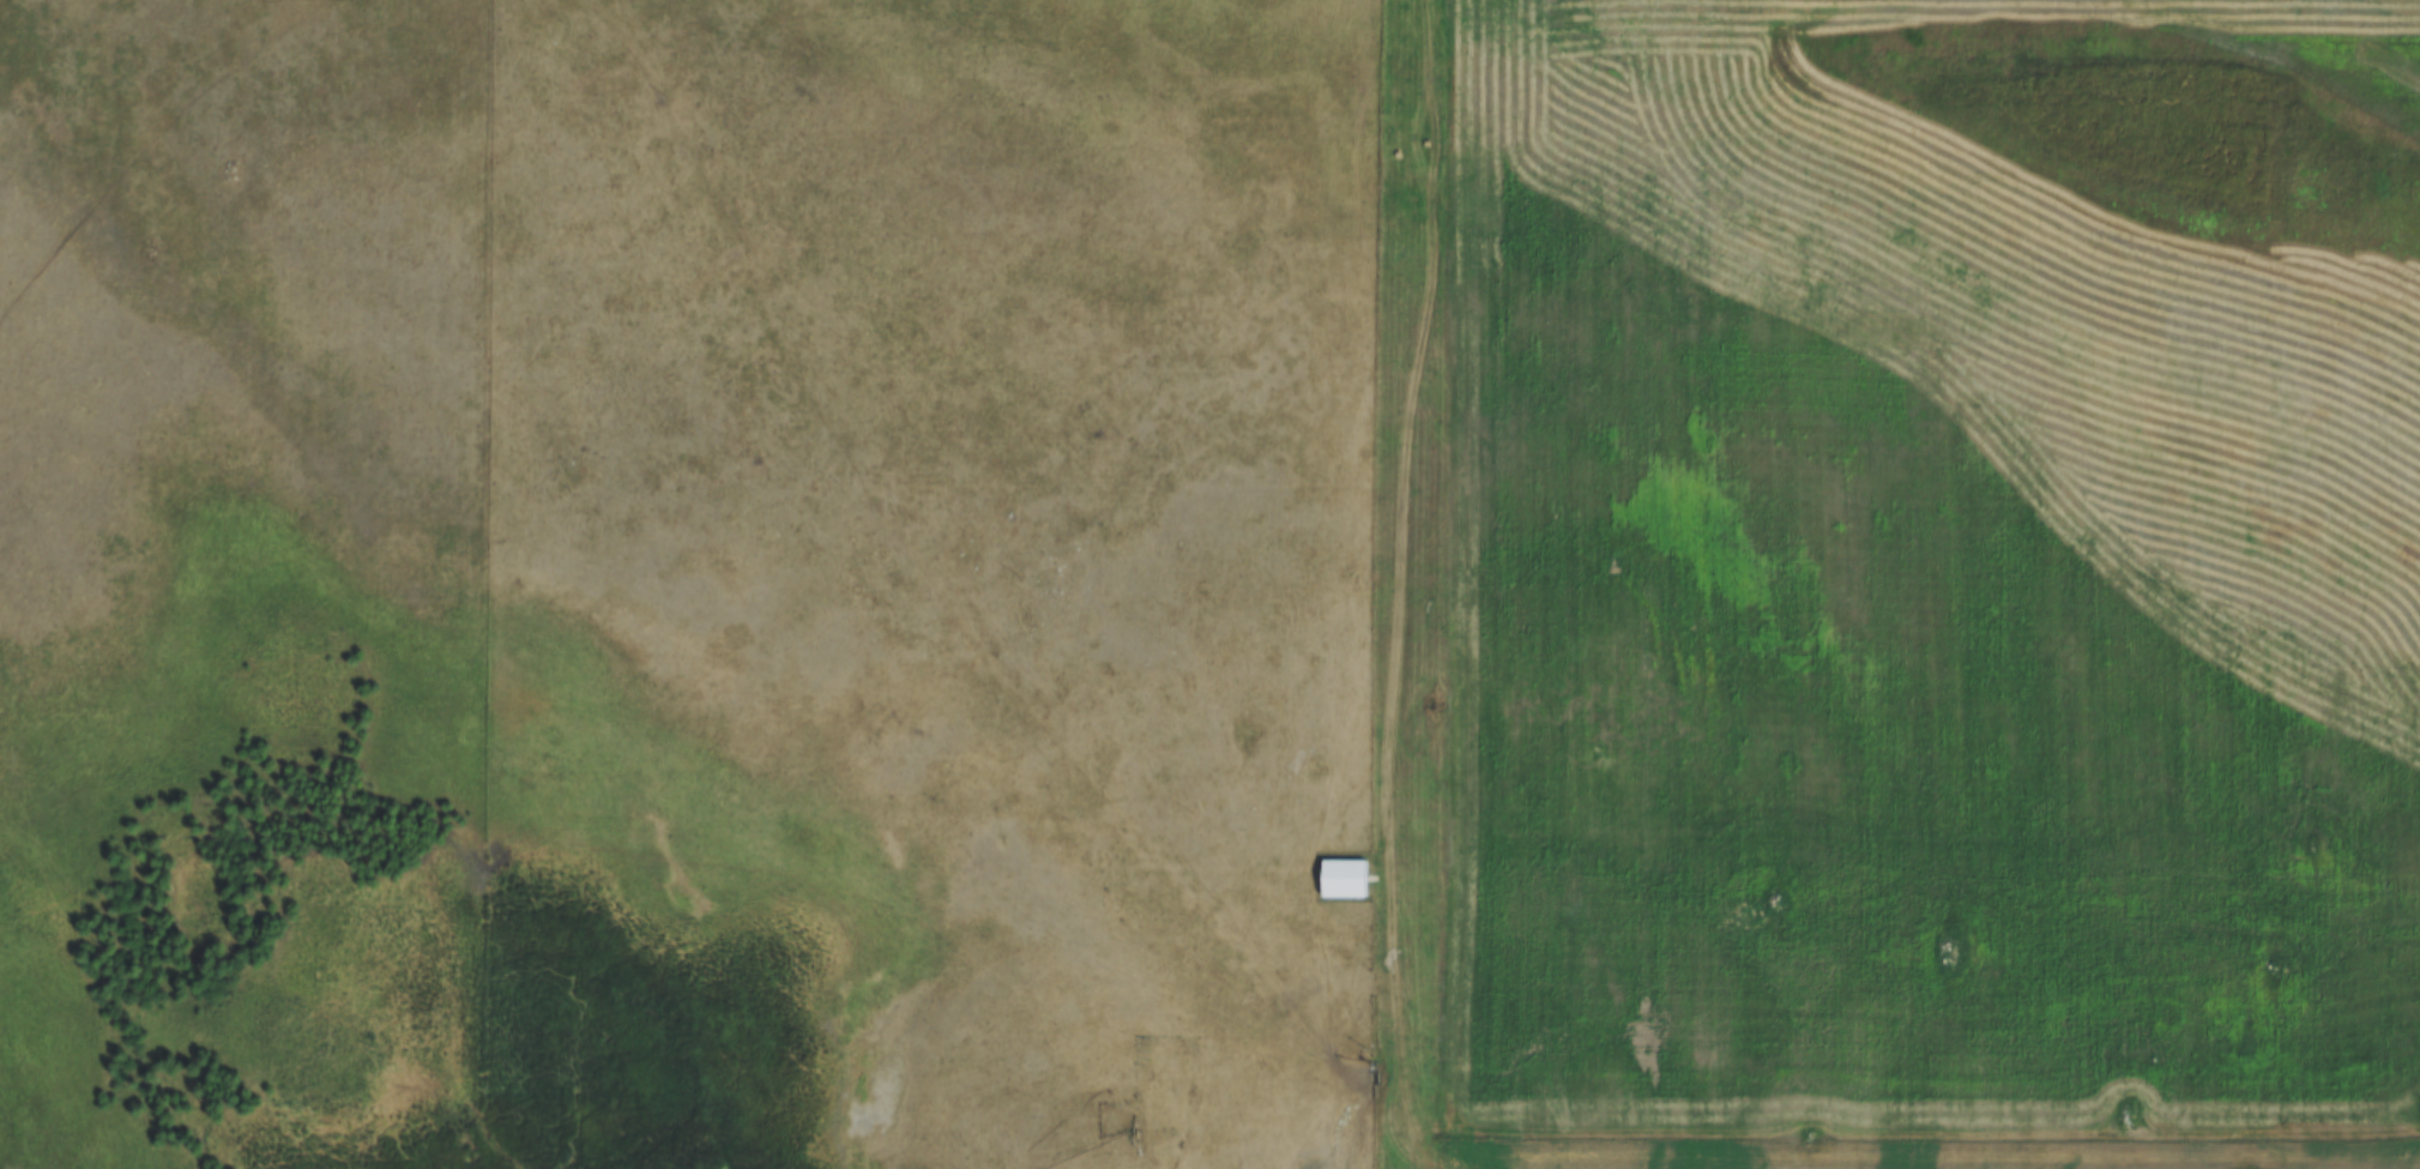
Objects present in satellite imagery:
building: (1345, 876)

